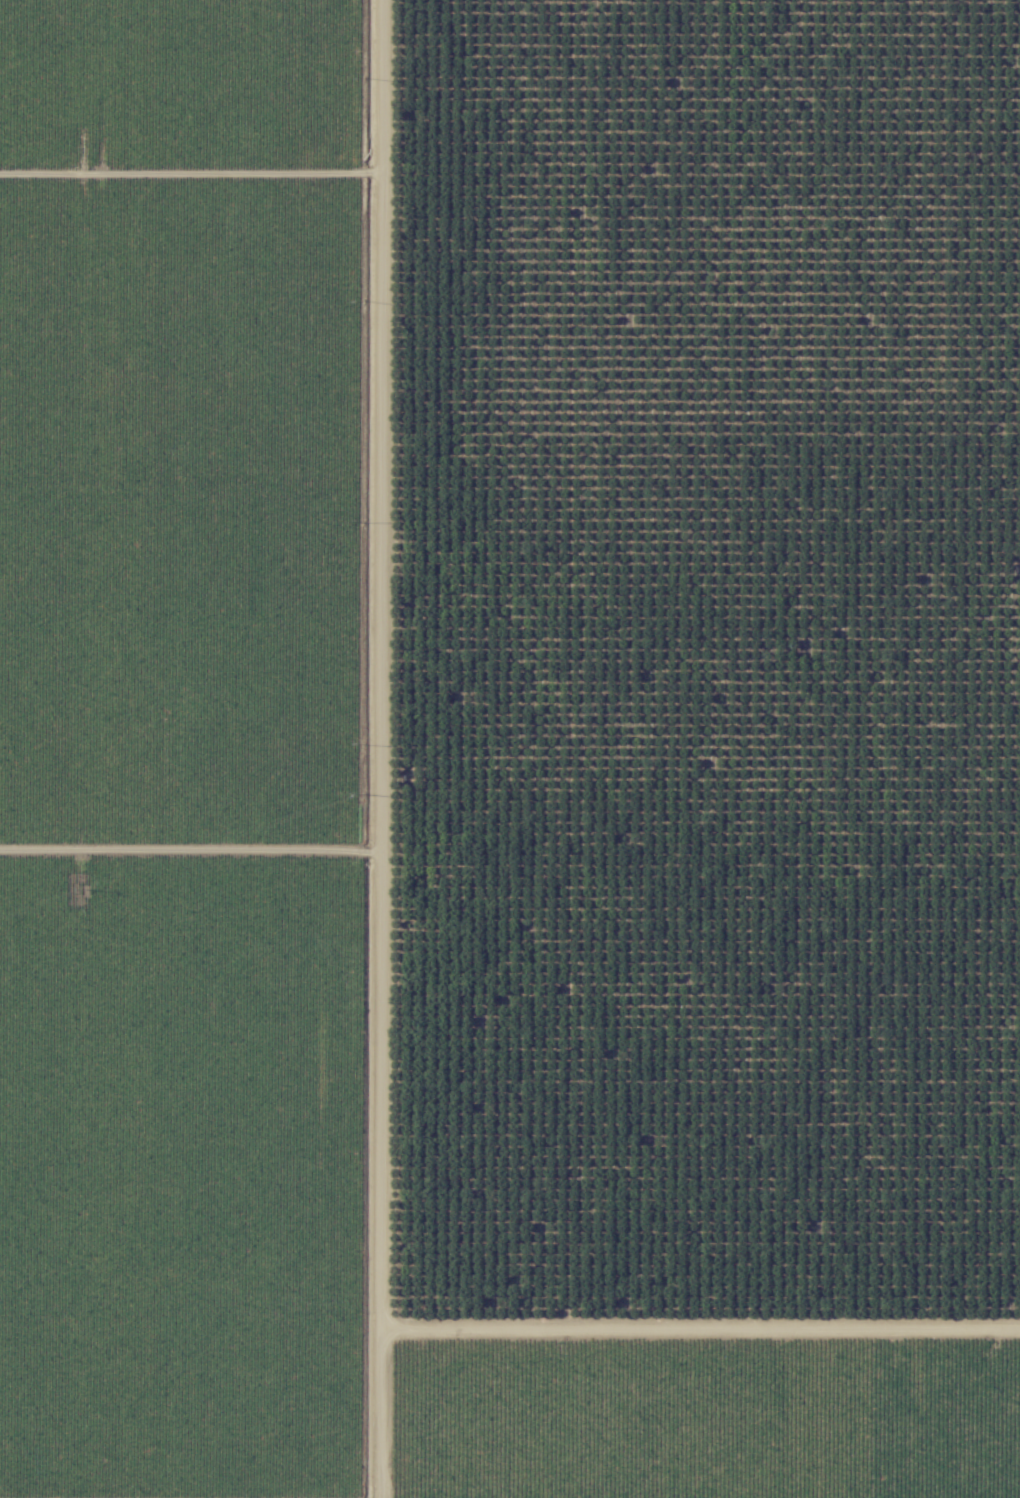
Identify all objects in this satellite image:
crop: (187, 749)
road: (344, 749)

